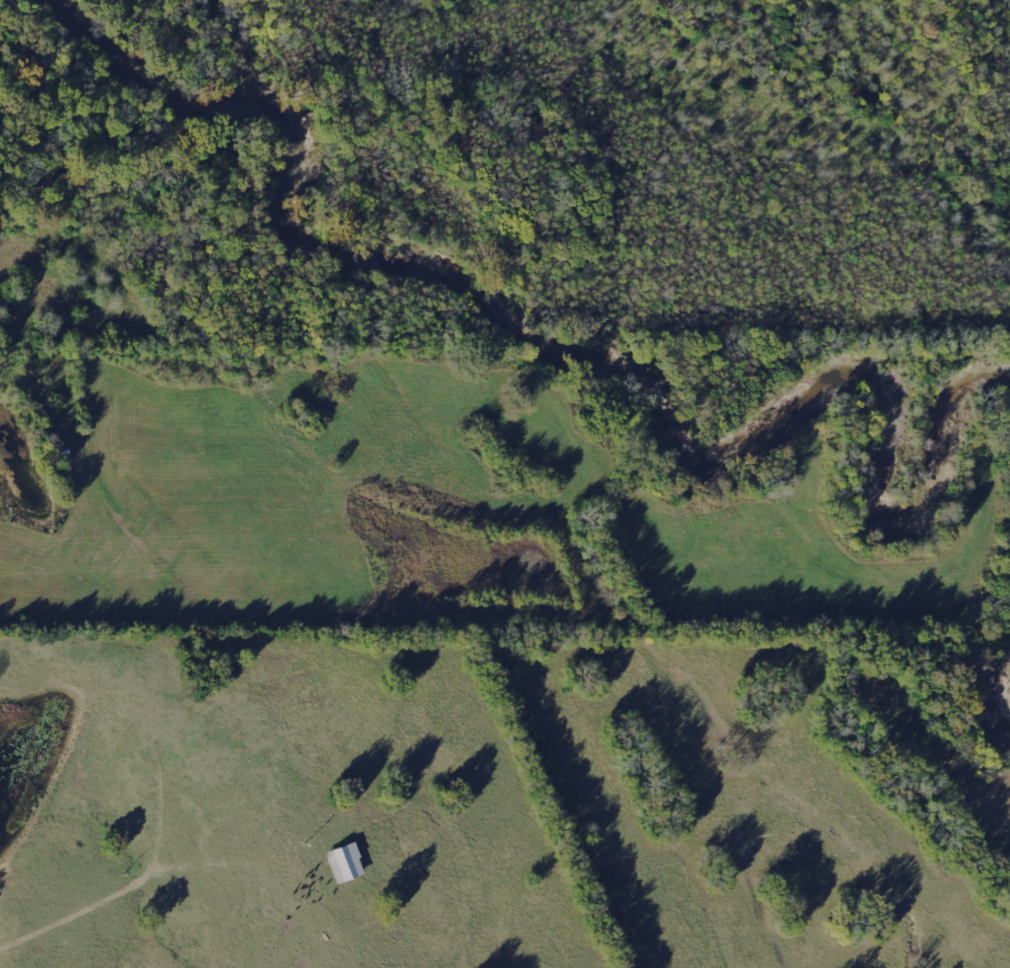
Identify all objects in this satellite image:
building: (346, 863)

